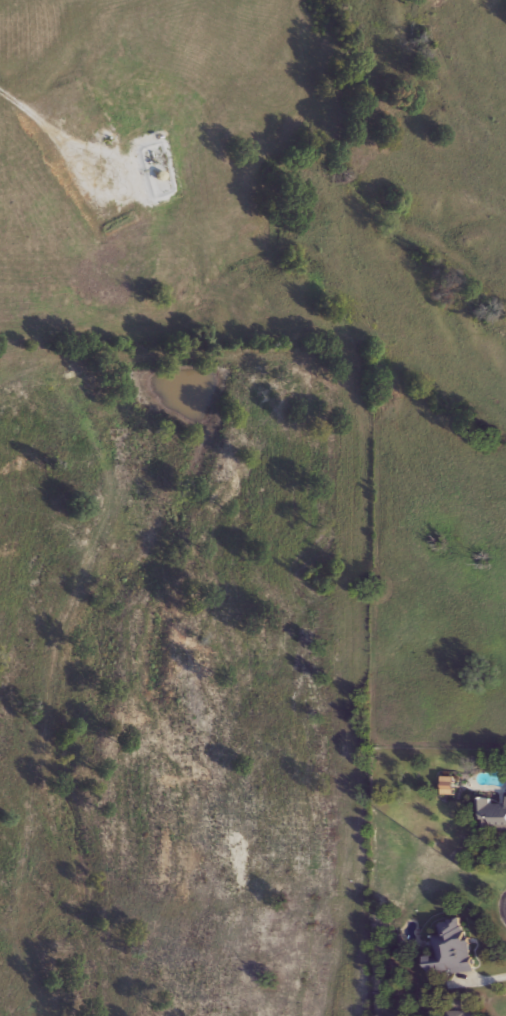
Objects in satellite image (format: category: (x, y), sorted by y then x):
road: (60, 131)
road: (88, 373)
building: (492, 816)
building: (455, 948)
building: (463, 1014)

